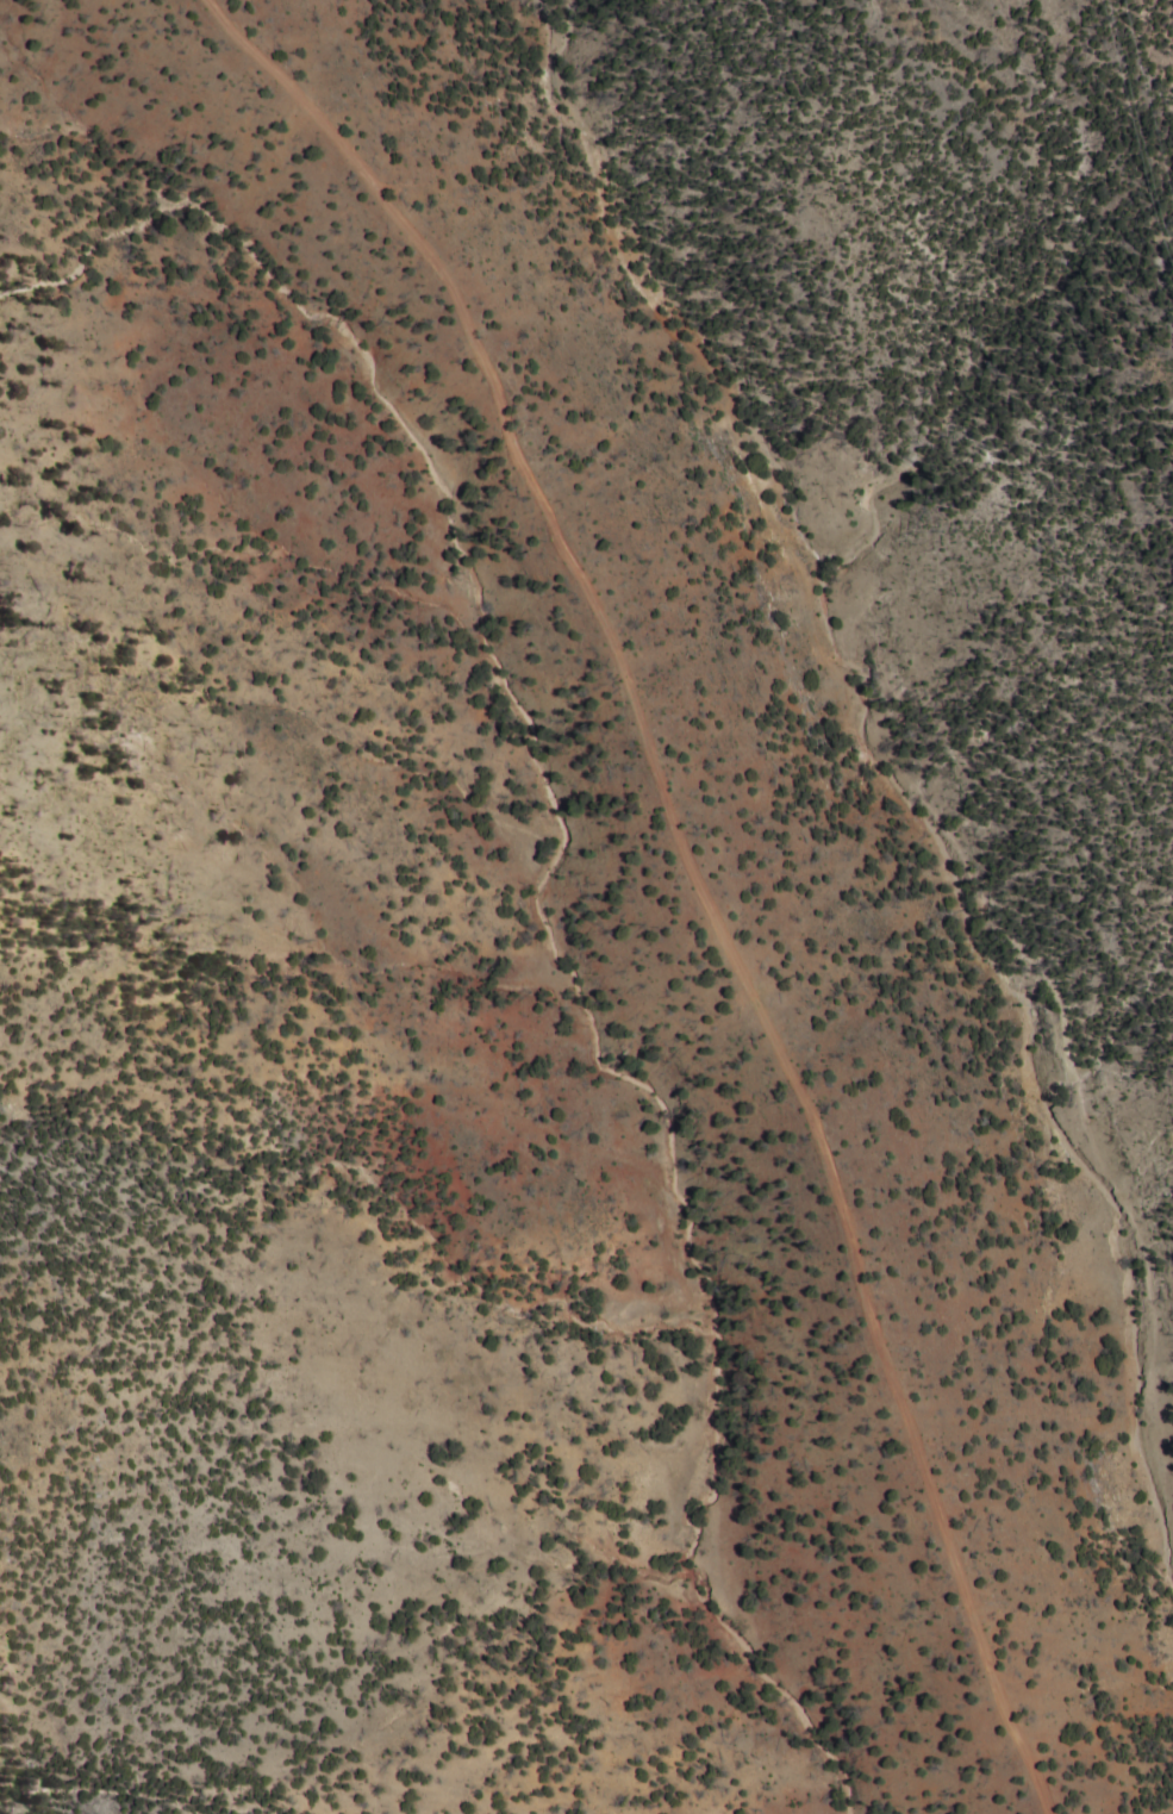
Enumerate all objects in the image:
road: (697, 872)

